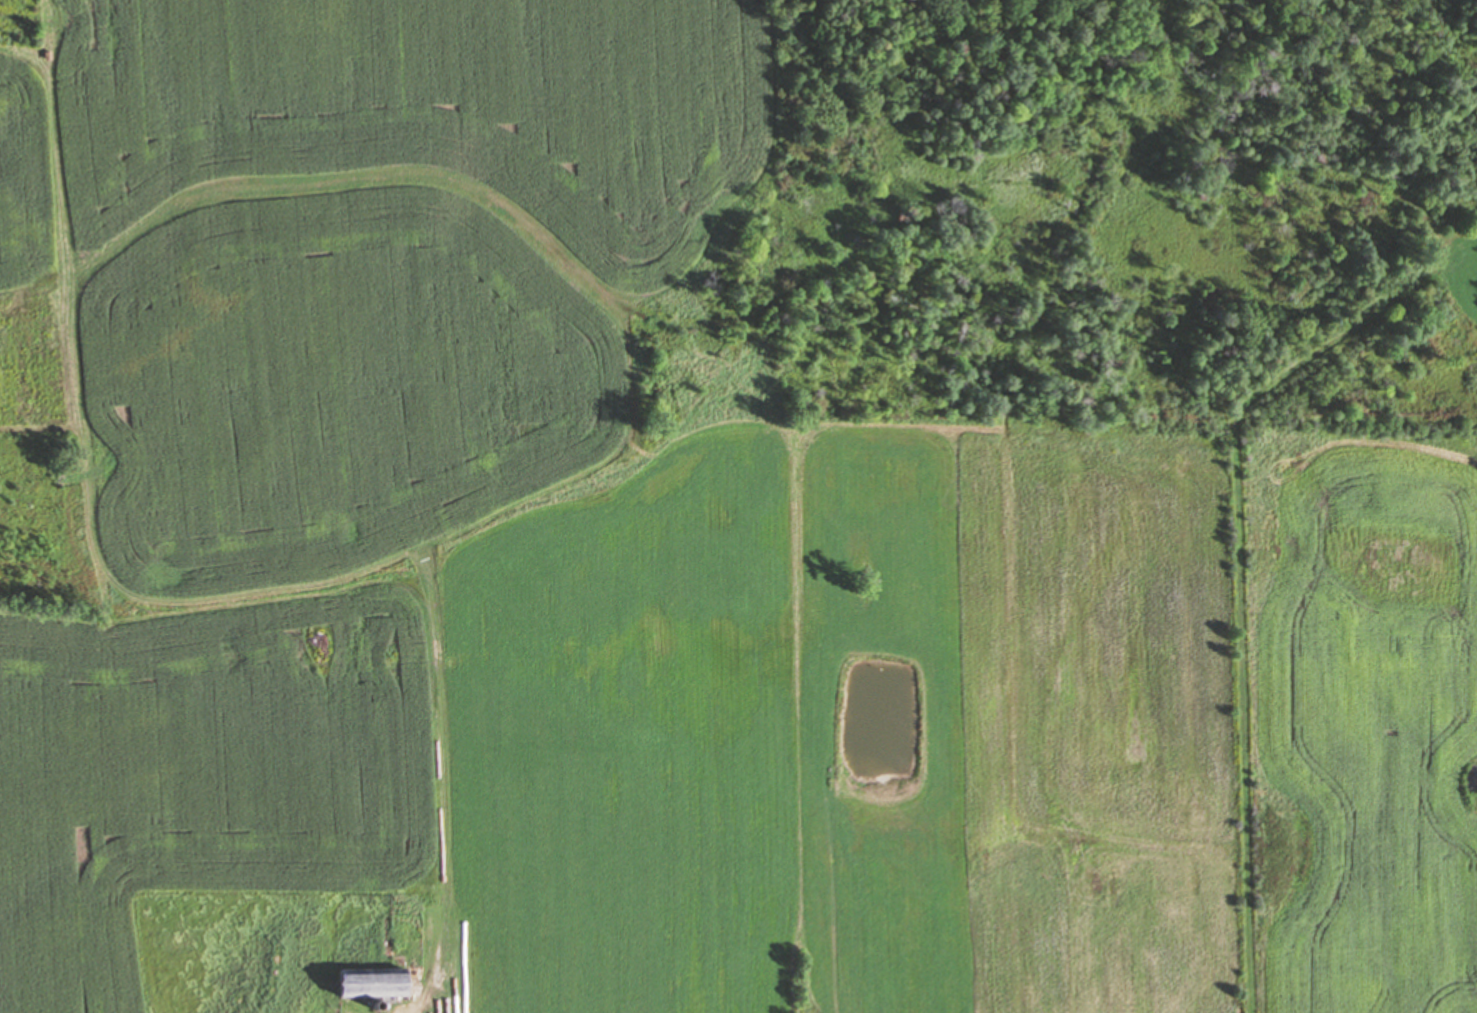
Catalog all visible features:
building: (1473, 277)
building: (382, 983)

